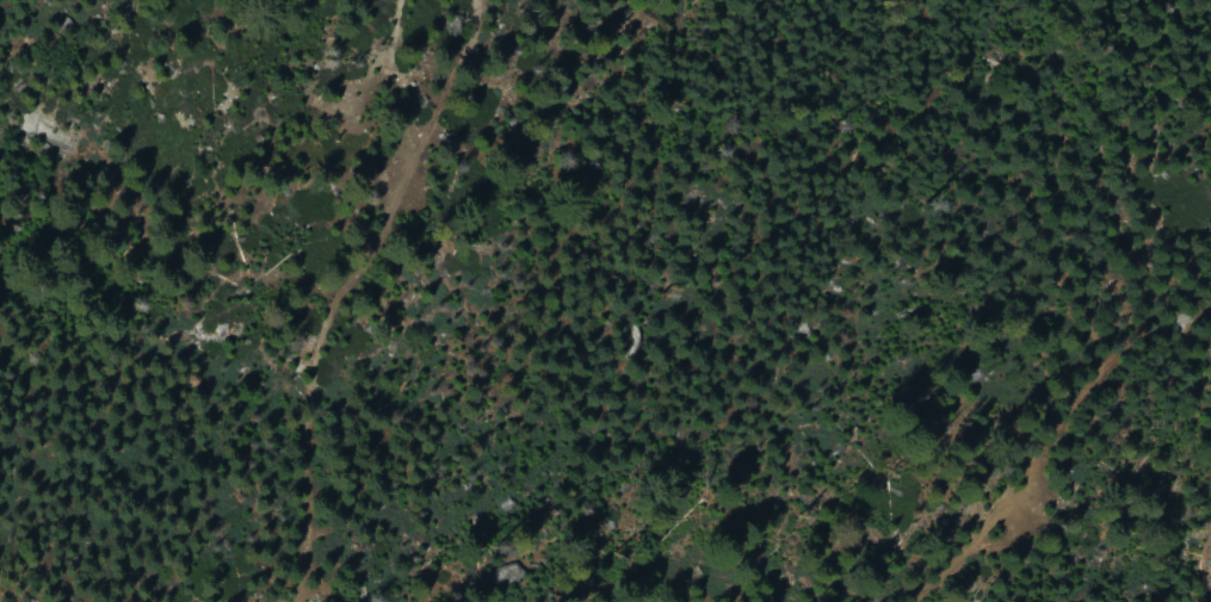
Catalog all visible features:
road: (299, 298)
road: (1119, 414)
road: (970, 541)

